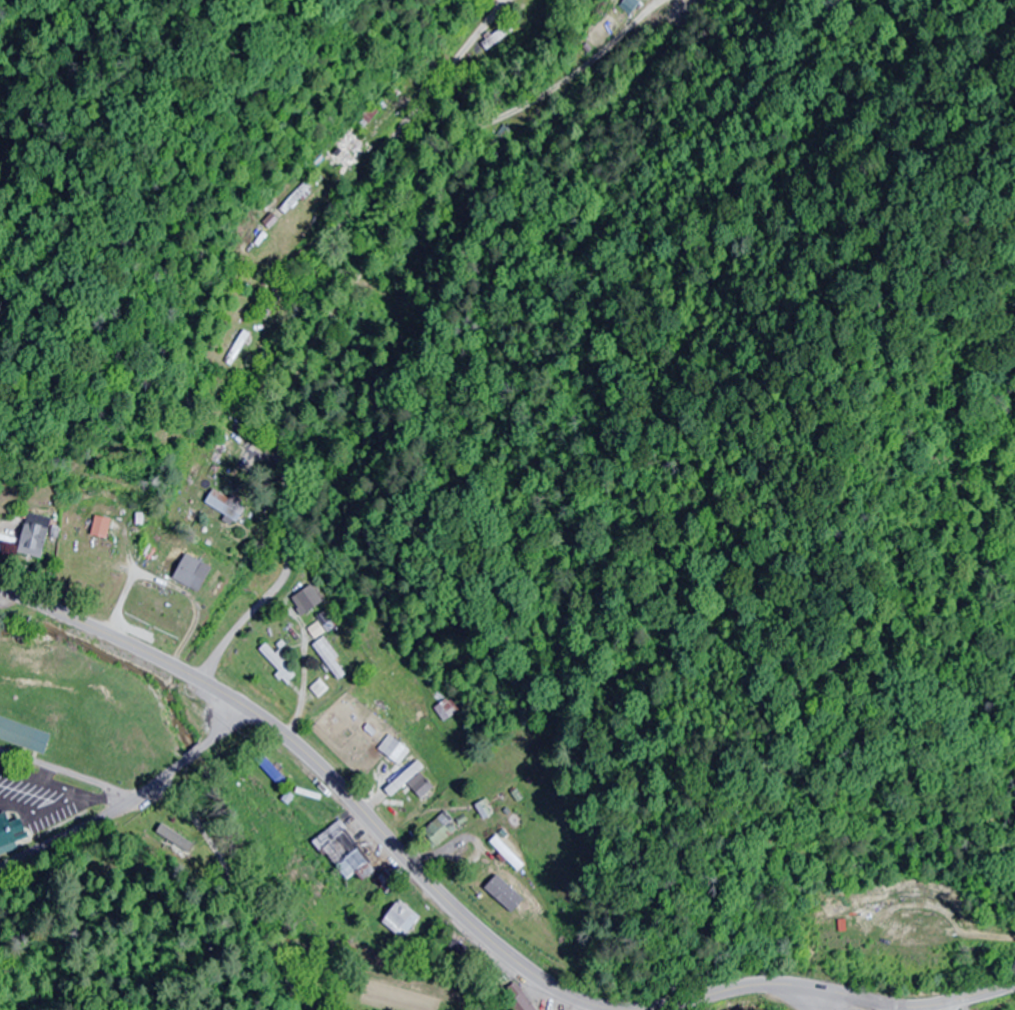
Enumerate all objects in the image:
building: (496, 39)
road: (446, 74)
road: (352, 79)
building: (366, 117)
building: (347, 151)
building: (238, 349)
road: (275, 416)
building: (225, 506)
building: (100, 527)
building: (34, 536)
building: (190, 573)
building: (307, 600)
building: (316, 631)
building: (330, 659)
building: (277, 663)
building: (319, 689)
building: (447, 710)
building: (23, 736)
building: (393, 750)
road: (319, 769)
road: (70, 773)
building: (413, 794)
road: (131, 805)
building: (440, 829)
building: (9, 832)
building: (344, 854)
building: (508, 854)
building: (387, 881)
building: (401, 919)
building: (521, 1000)
road: (803, 1001)
road: (852, 1001)

